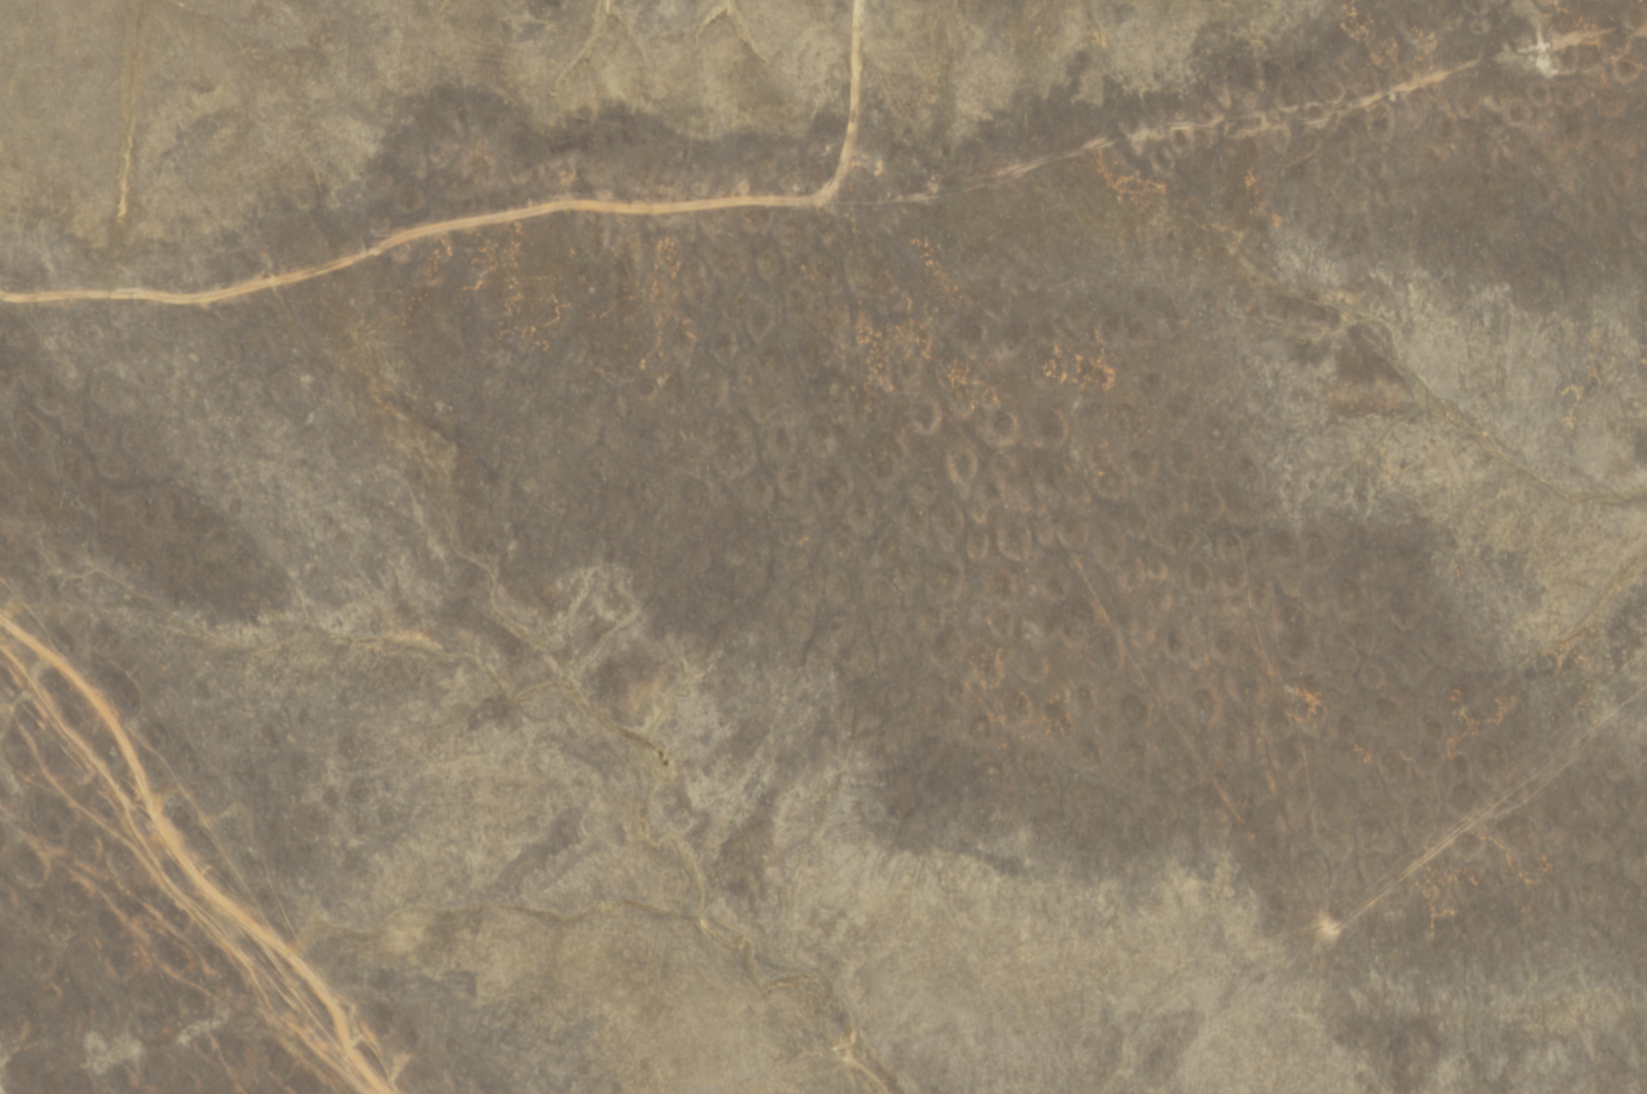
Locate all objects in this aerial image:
road: (828, 197)
road: (190, 859)

